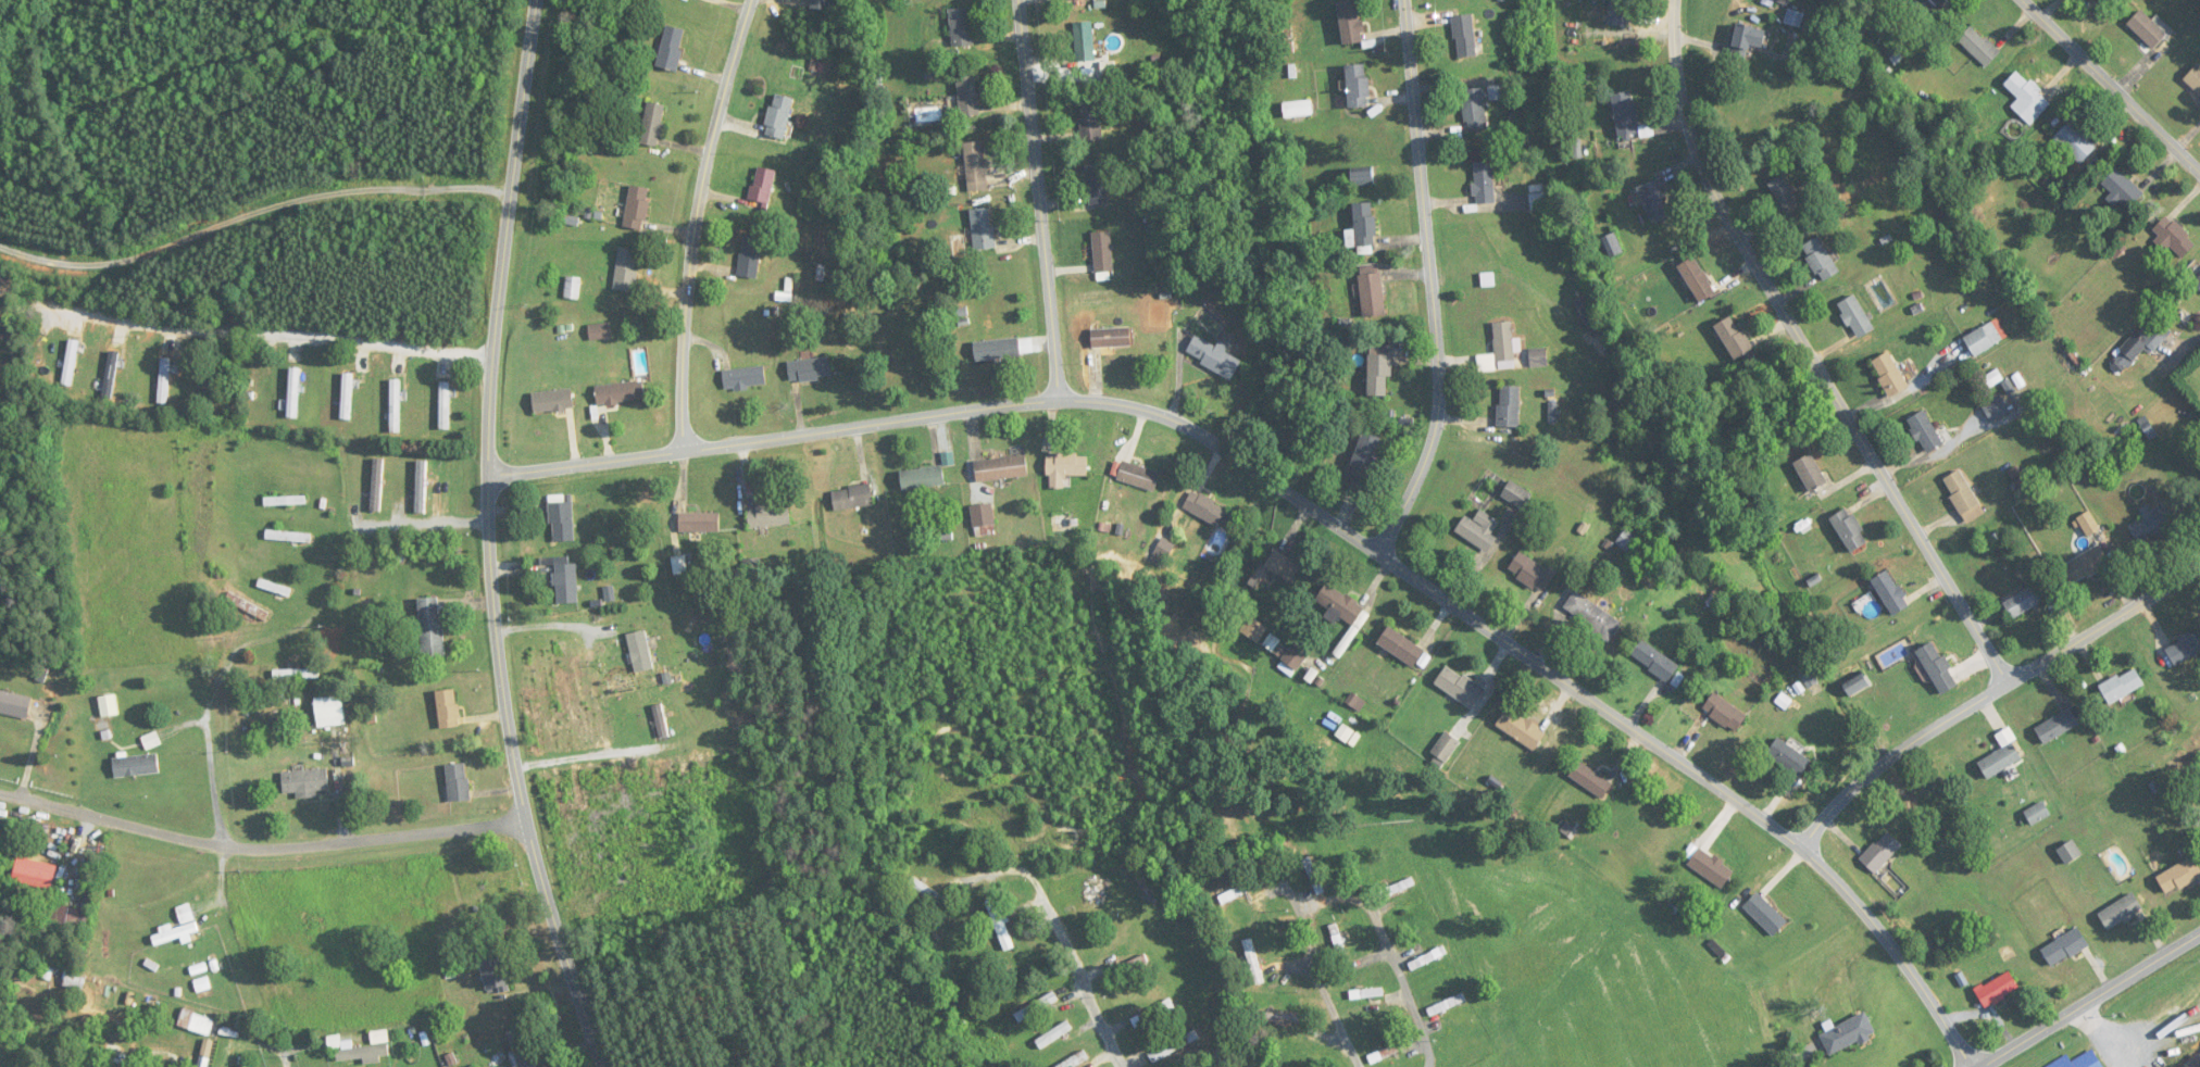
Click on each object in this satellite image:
building: (696, 0)
building: (1078, 0)
building: (821, 4)
building: (1932, 4)
building: (1618, 12)
building: (1797, 18)
building: (1350, 22)
building: (960, 27)
building: (2147, 28)
building: (1464, 36)
building: (1746, 40)
building: (1085, 42)
building: (1979, 46)
building: (671, 48)
building: (2193, 78)
building: (1358, 86)
road: (2111, 86)
building: (967, 96)
building: (2027, 98)
building: (1299, 109)
building: (1474, 110)
building: (778, 116)
building: (1628, 117)
building: (1090, 118)
building: (652, 124)
building: (2075, 142)
building: (975, 166)
building: (1484, 183)
building: (1098, 185)
building: (2123, 188)
building: (761, 190)
building: (1538, 197)
building: (1785, 198)
road: (1040, 201)
building: (1654, 201)
building: (636, 208)
road: (250, 221)
road: (698, 223)
building: (1363, 225)
building: (983, 229)
building: (2173, 237)
building: (1611, 244)
building: (750, 256)
building: (1102, 256)
building: (1821, 259)
building: (626, 269)
building: (1697, 279)
building: (2198, 281)
road: (1433, 285)
building: (1372, 291)
building: (1590, 314)
building: (1855, 316)
building: (599, 331)
road: (282, 332)
building: (1111, 338)
building: (1734, 338)
building: (2147, 338)
building: (1983, 339)
building: (1003, 349)
building: (1500, 350)
road: (1810, 354)
building: (1213, 356)
building: (1538, 357)
building: (71, 363)
building: (809, 369)
building: (1889, 374)
building: (111, 375)
building: (1378, 375)
building: (743, 378)
building: (165, 381)
building: (293, 393)
building: (620, 393)
building: (347, 397)
building: (552, 401)
building: (396, 405)
building: (445, 405)
building: (1509, 407)
building: (1996, 409)
building: (1925, 432)
building: (1364, 457)
building: (1001, 468)
building: (1064, 469)
building: (1811, 473)
building: (1138, 476)
building: (923, 478)
building: (377, 485)
building: (2198, 485)
building: (421, 487)
building: (1961, 492)
building: (1516, 494)
building: (852, 498)
building: (285, 501)
building: (1207, 510)
building: (768, 516)
road: (1318, 516)
building: (561, 518)
building: (983, 518)
road: (434, 522)
building: (2152, 522)
building: (699, 523)
building: (2089, 524)
building: (1478, 530)
building: (1850, 530)
building: (288, 537)
road: (491, 539)
building: (679, 565)
building: (2086, 565)
building: (1283, 566)
building: (1530, 573)
building: (565, 582)
building: (279, 589)
building: (1890, 593)
building: (2023, 602)
building: (1340, 604)
building: (247, 606)
building: (1592, 617)
road: (552, 624)
building: (430, 626)
building: (1253, 630)
building: (1273, 643)
building: (643, 645)
building: (1400, 647)
building: (2186, 648)
building: (1295, 657)
building: (1654, 662)
building: (1937, 668)
building: (296, 675)
building: (1811, 680)
building: (1855, 686)
building: (2122, 686)
building: (1459, 687)
road: (1993, 696)
building: (14, 704)
building: (108, 705)
building: (448, 708)
building: (329, 712)
building: (1724, 713)
building: (661, 721)
building: (2057, 726)
building: (1521, 729)
building: (151, 741)
building: (1445, 749)
road: (588, 756)
building: (2001, 756)
building: (1789, 757)
building: (136, 765)
building: (1590, 780)
building: (305, 782)
building: (458, 782)
building: (2037, 814)
road: (261, 849)
building: (2070, 852)
building: (1880, 853)
road: (229, 865)
building: (1709, 867)
building: (1314, 876)
building: (2179, 877)
building: (1395, 888)
building: (927, 891)
building: (1239, 891)
building: (2121, 912)
building: (1765, 915)
building: (65, 916)
building: (1003, 929)
building: (174, 933)
building: (1338, 942)
building: (2065, 947)
road: (1368, 953)
building: (1427, 958)
building: (1253, 962)
road: (1077, 968)
building: (495, 972)
building: (74, 981)
building: (202, 984)
road: (1300, 986)
building: (1998, 990)
building: (1366, 994)
road: (2092, 1004)
building: (1447, 1005)
building: (1036, 1007)
building: (1278, 1017)
road: (1165, 1033)
building: (1847, 1033)
building: (1053, 1035)
building: (1174, 1047)
building: (354, 1053)
building: (1386, 1053)
road: (1466, 1057)
building: (1075, 1060)
road: (1796, 1060)
building: (2080, 1060)

